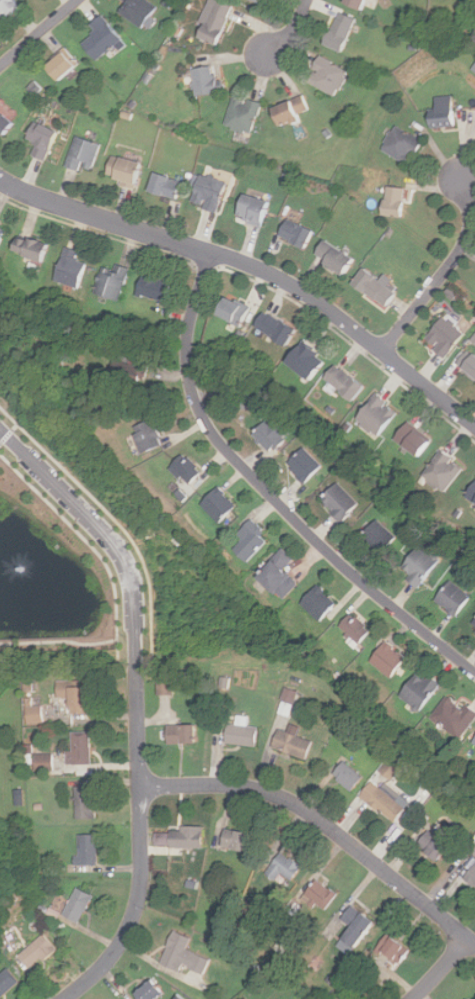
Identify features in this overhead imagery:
building: (264, 1)
building: (361, 3)
building: (10, 9)
building: (141, 11)
building: (220, 22)
road: (292, 31)
building: (346, 32)
road: (38, 33)
building: (105, 38)
building: (67, 66)
building: (332, 77)
building: (210, 82)
building: (296, 112)
building: (246, 114)
building: (441, 115)
building: (8, 123)
building: (46, 139)
building: (400, 145)
building: (84, 154)
building: (124, 171)
building: (164, 185)
building: (207, 192)
building: (400, 203)
building: (251, 210)
building: (295, 233)
building: (1, 237)
building: (30, 248)
building: (332, 257)
road: (255, 267)
building: (69, 268)
road: (444, 271)
building: (110, 281)
building: (153, 288)
building: (373, 288)
building: (231, 311)
building: (273, 328)
building: (443, 337)
building: (304, 360)
building: (467, 363)
building: (135, 373)
building: (343, 383)
building: (375, 416)
building: (270, 433)
building: (146, 436)
building: (411, 440)
building: (303, 465)
building: (185, 468)
building: (441, 471)
building: (471, 491)
road: (269, 494)
building: (338, 501)
building: (216, 504)
road: (99, 536)
building: (378, 536)
building: (249, 540)
building: (419, 565)
building: (277, 574)
fountain: (6, 578)
building: (451, 598)
building: (317, 602)
building: (472, 626)
building: (354, 627)
building: (387, 659)
building: (166, 685)
building: (418, 690)
building: (72, 696)
building: (288, 702)
building: (34, 712)
building: (453, 716)
building: (179, 734)
building: (240, 734)
building: (473, 741)
building: (291, 744)
building: (80, 748)
building: (43, 762)
building: (389, 769)
building: (346, 775)
building: (387, 800)
building: (83, 802)
road: (323, 823)
building: (179, 838)
building: (235, 840)
building: (431, 846)
building: (87, 850)
road: (141, 850)
building: (284, 869)
building: (471, 876)
building: (319, 895)
building: (76, 905)
building: (353, 929)
building: (392, 949)
building: (36, 951)
building: (181, 955)
road: (441, 969)
building: (6, 980)
building: (148, 991)

